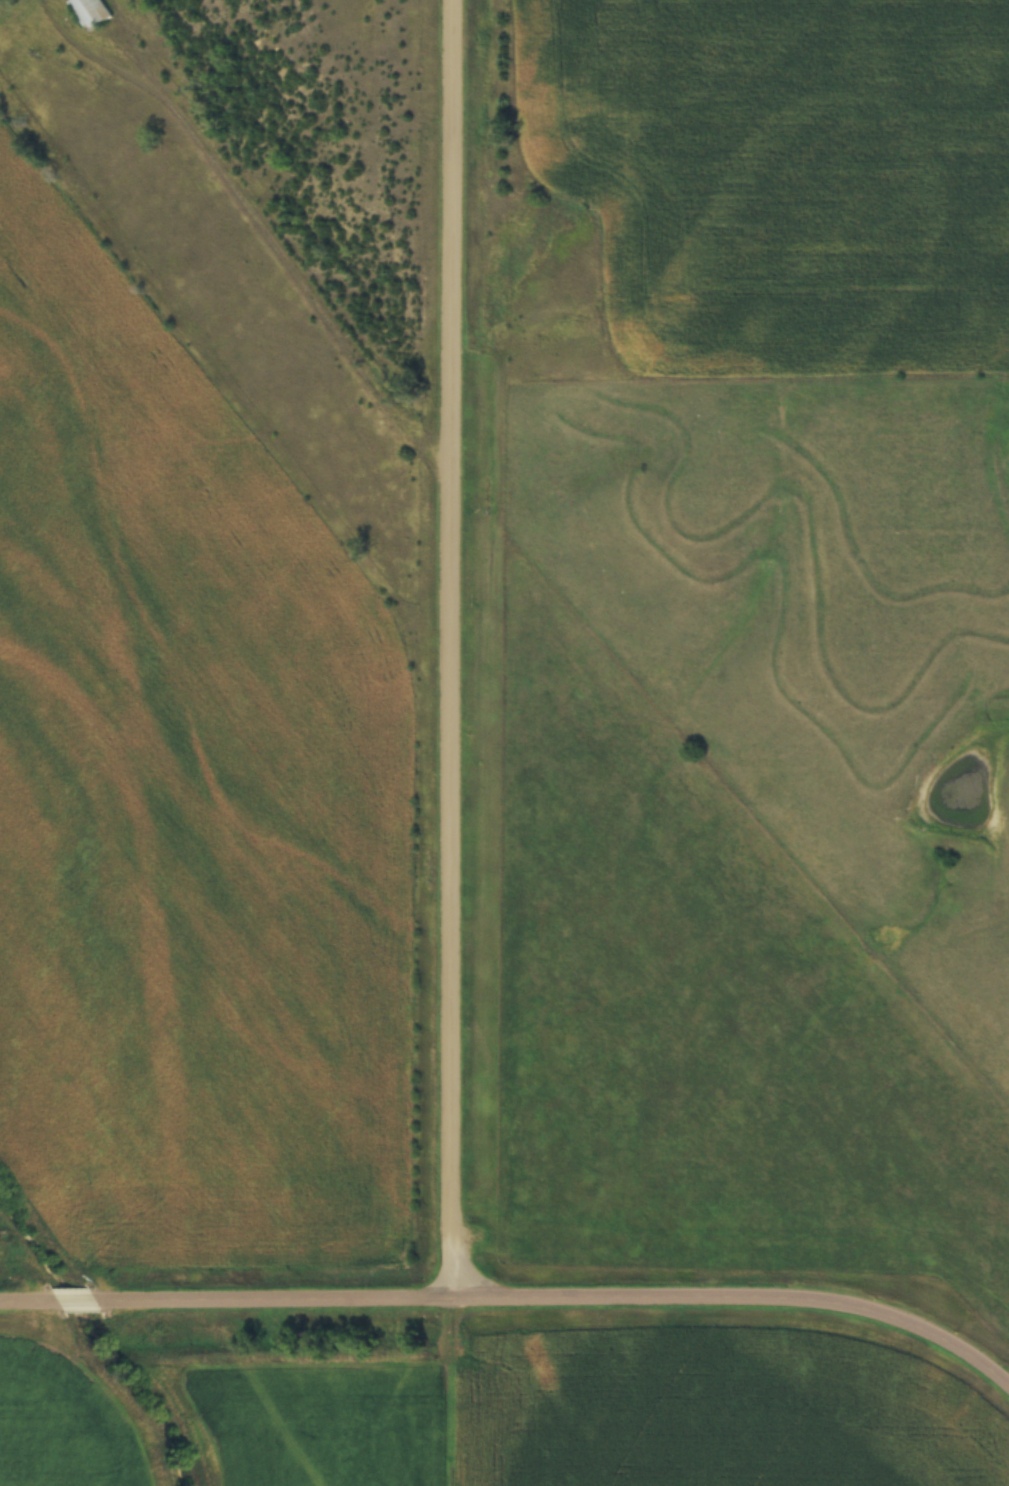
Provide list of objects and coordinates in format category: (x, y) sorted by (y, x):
building: (88, 11)
road: (298, 291)
road: (450, 646)
road: (560, 1294)
road: (28, 1298)
road: (74, 1298)
river: (103, 1342)

